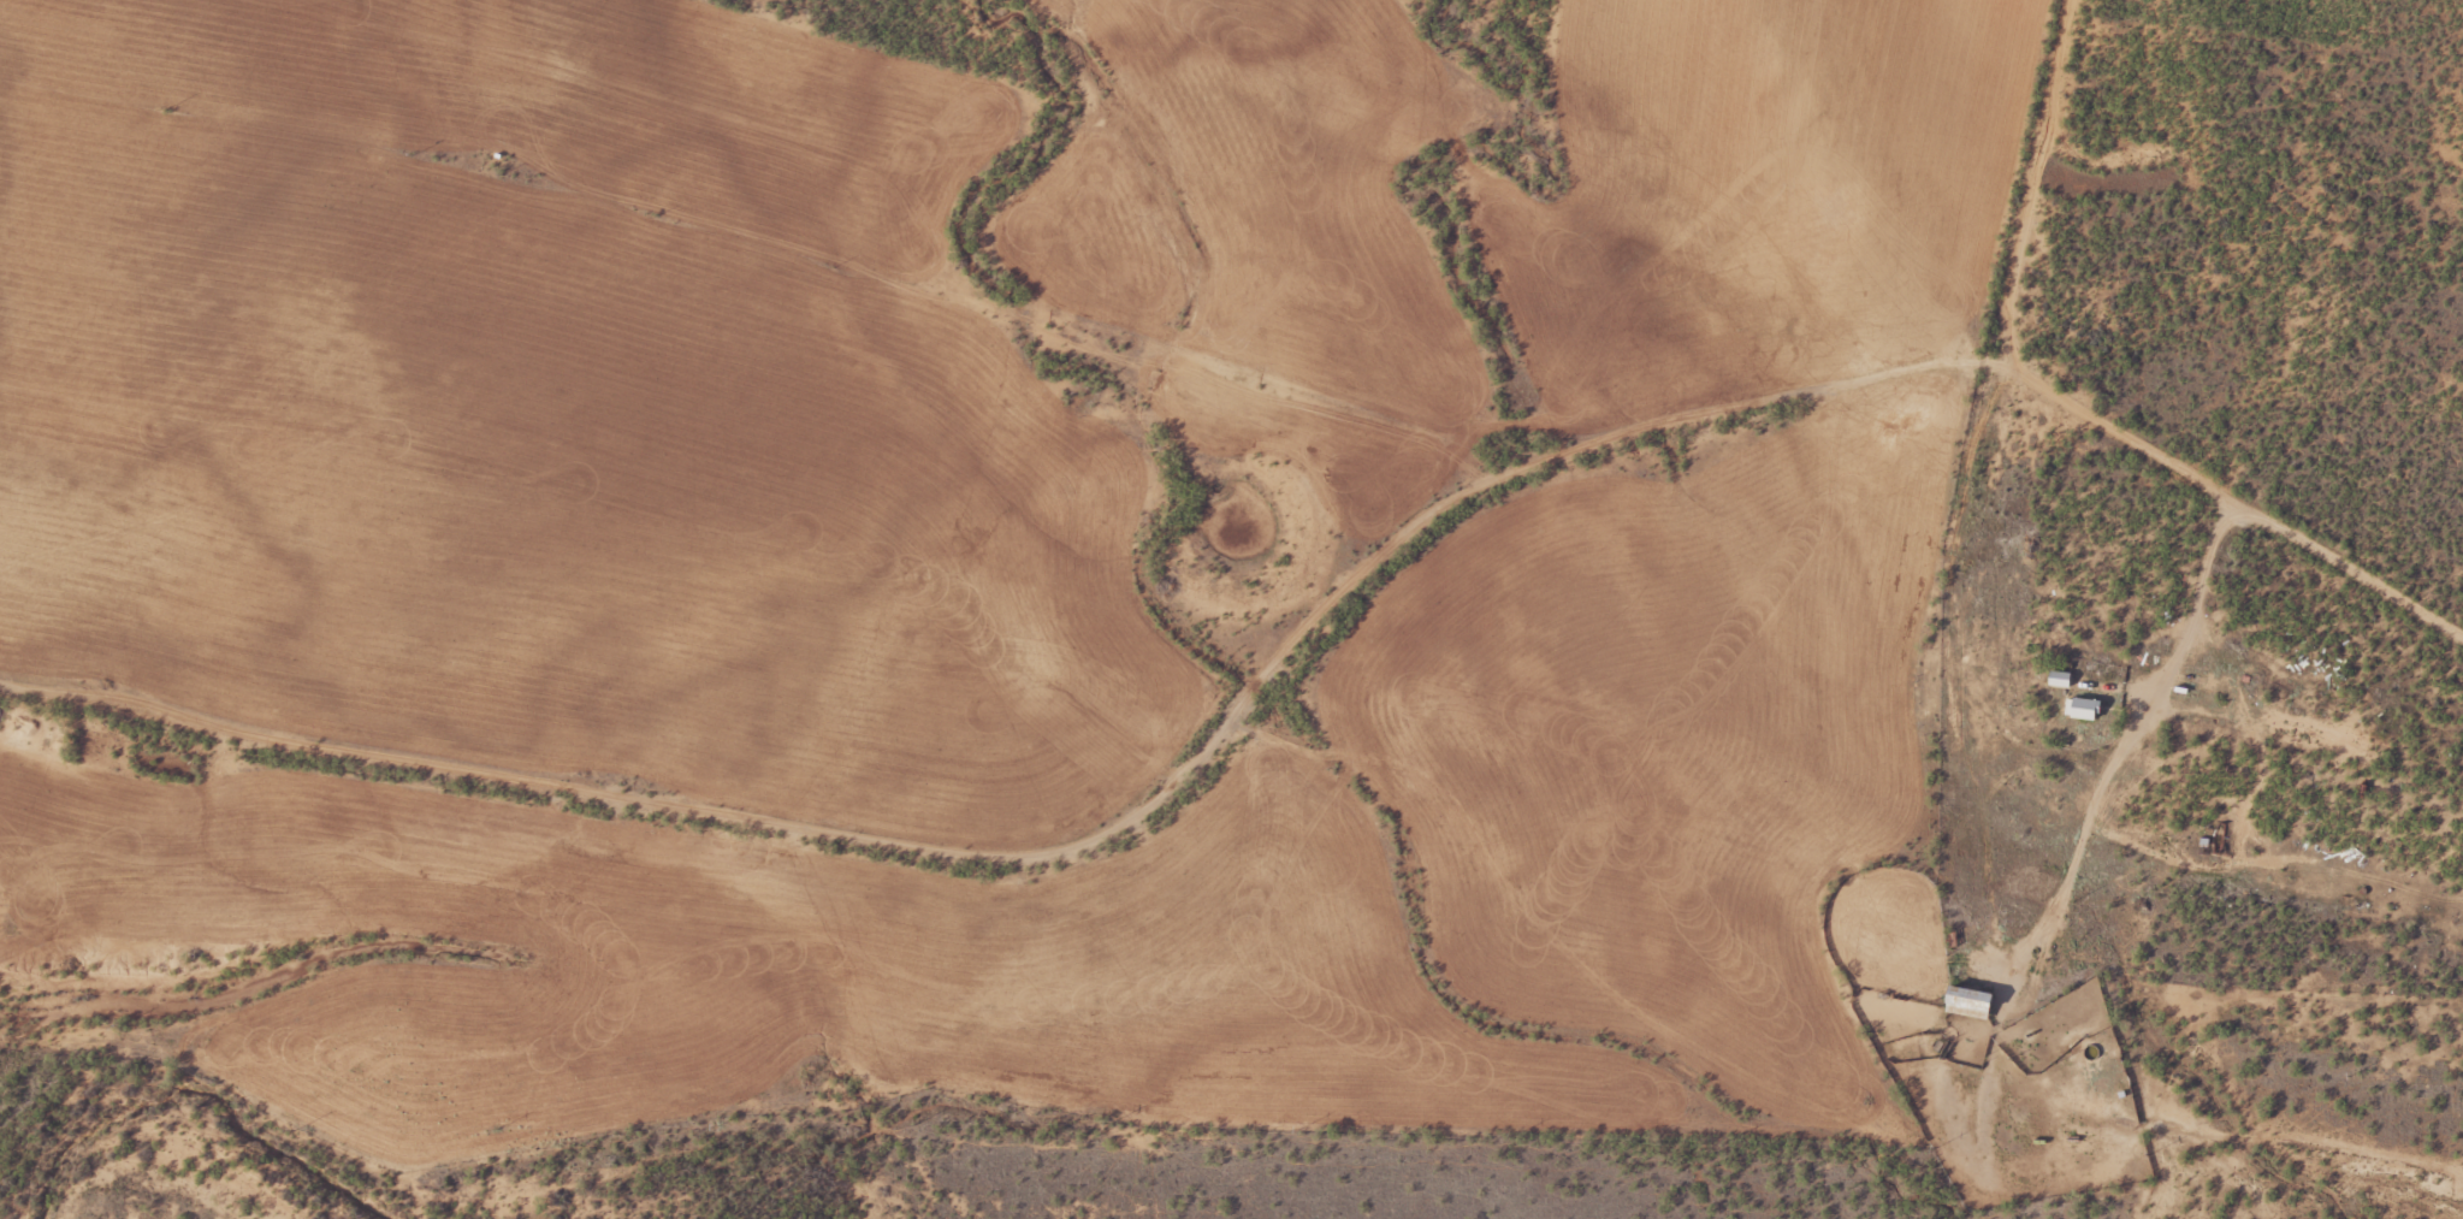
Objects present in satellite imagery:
road: (2026, 183)
road: (1848, 391)
building: (2053, 680)
building: (2077, 709)
road: (2127, 750)
road: (657, 811)
building: (1962, 1004)

